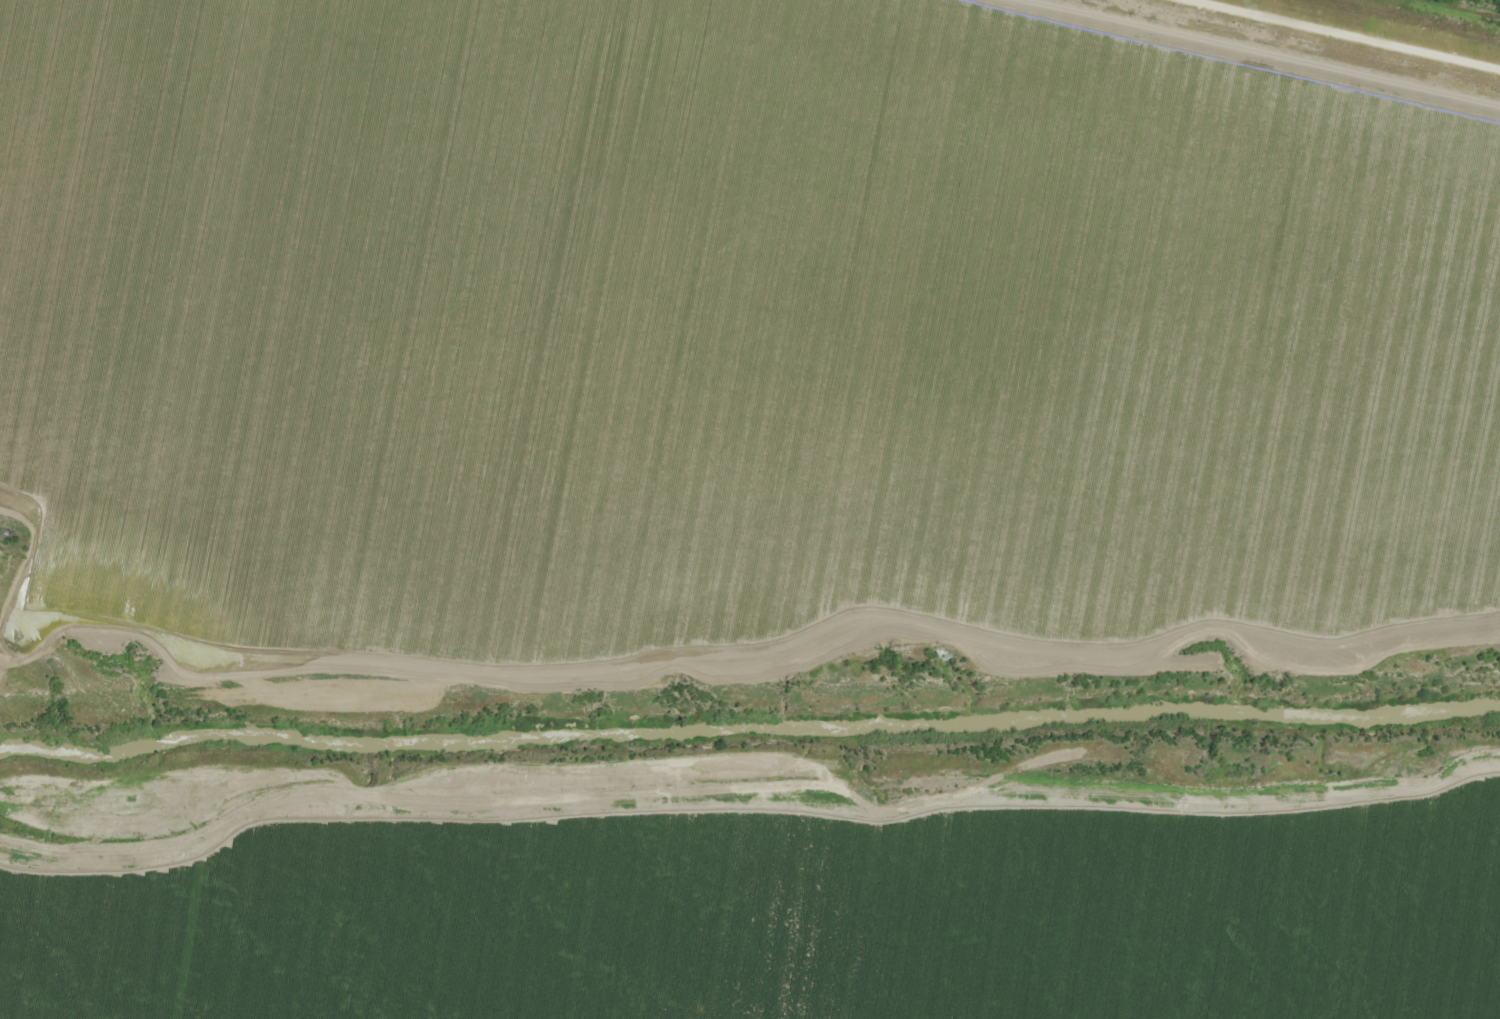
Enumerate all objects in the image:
road: (1374, 29)

